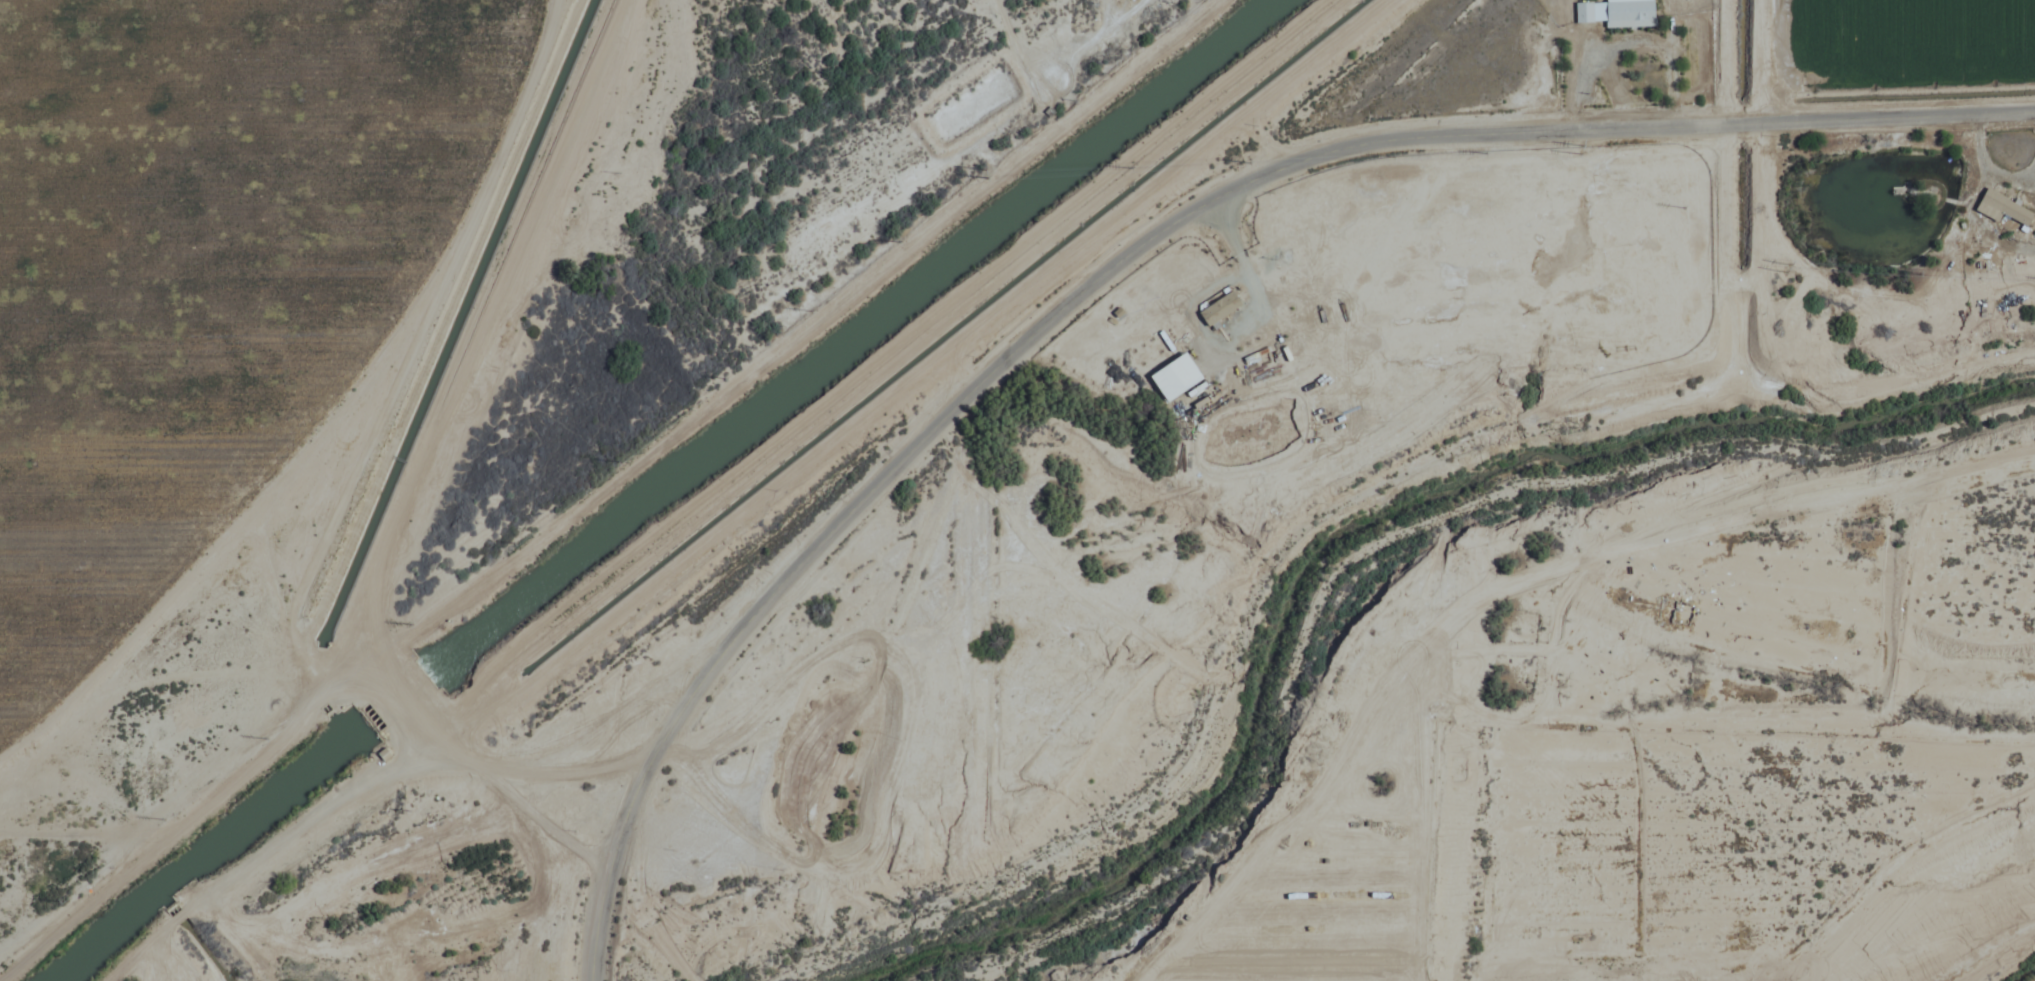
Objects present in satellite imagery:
building: (1614, 13)
crop: (1902, 32)
building: (2000, 208)
building: (1975, 244)
road: (1263, 264)
building: (1216, 308)
crop: (179, 354)
building: (8, 813)
road: (607, 864)

